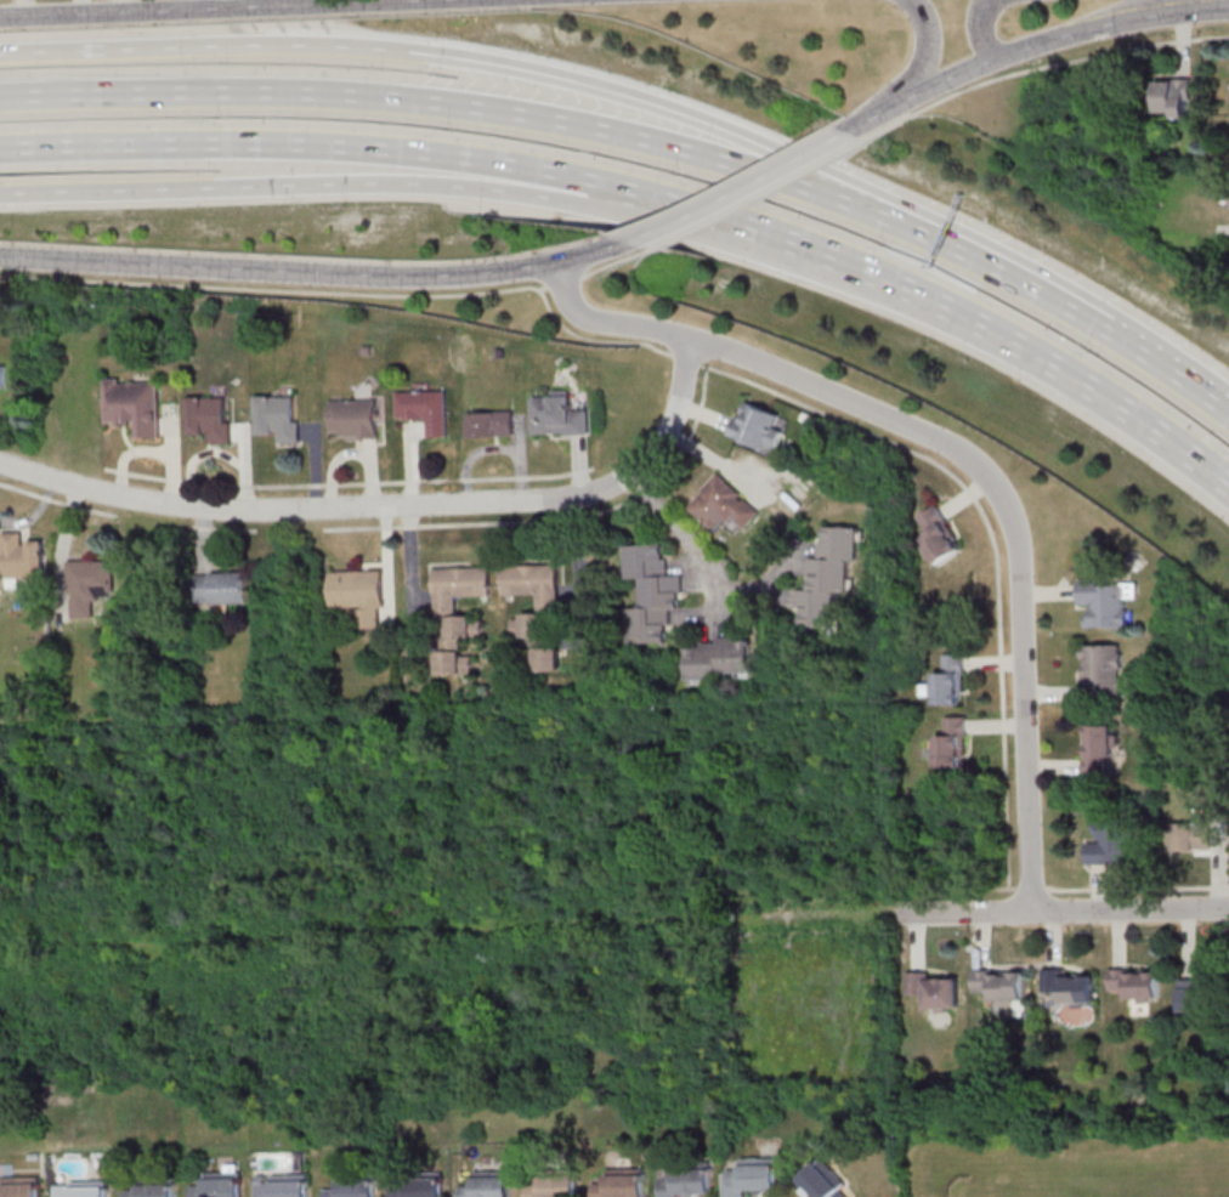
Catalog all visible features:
road: (222, 4)
road: (204, 7)
road: (980, 29)
road: (400, 51)
road: (993, 58)
road: (914, 74)
building: (1173, 97)
road: (451, 104)
road: (340, 146)
road: (267, 185)
road: (736, 189)
road: (964, 242)
road: (757, 254)
road: (829, 254)
road: (316, 272)
road: (1010, 280)
road: (606, 323)
building: (2, 376)
road: (1180, 378)
road: (701, 396)
road: (1105, 402)
building: (135, 404)
building: (425, 409)
building: (557, 414)
building: (279, 416)
building: (210, 418)
building: (355, 419)
building: (491, 424)
building: (757, 425)
building: (723, 504)
road: (390, 506)
road: (1013, 527)
road: (676, 528)
building: (938, 537)
road: (571, 538)
road: (410, 556)
building: (22, 558)
building: (829, 575)
building: (533, 583)
building: (90, 585)
building: (223, 588)
building: (652, 592)
building: (359, 595)
building: (1106, 601)
building: (458, 617)
building: (537, 625)
building: (546, 658)
building: (719, 658)
building: (1103, 669)
building: (950, 680)
building: (951, 743)
building: (1099, 747)
building: (1191, 836)
building: (1112, 841)
road: (1086, 889)
road: (1061, 909)
road: (489, 926)
building: (1137, 983)
building: (999, 985)
building: (1071, 986)
building: (935, 989)
building: (1201, 992)
building: (753, 1175)
building: (687, 1179)
building: (823, 1181)
building: (489, 1184)
building: (623, 1184)
building: (419, 1185)
building: (220, 1186)
building: (285, 1186)
building: (355, 1186)
building: (22, 1187)
building: (154, 1187)
building: (555, 1187)
building: (84, 1189)

